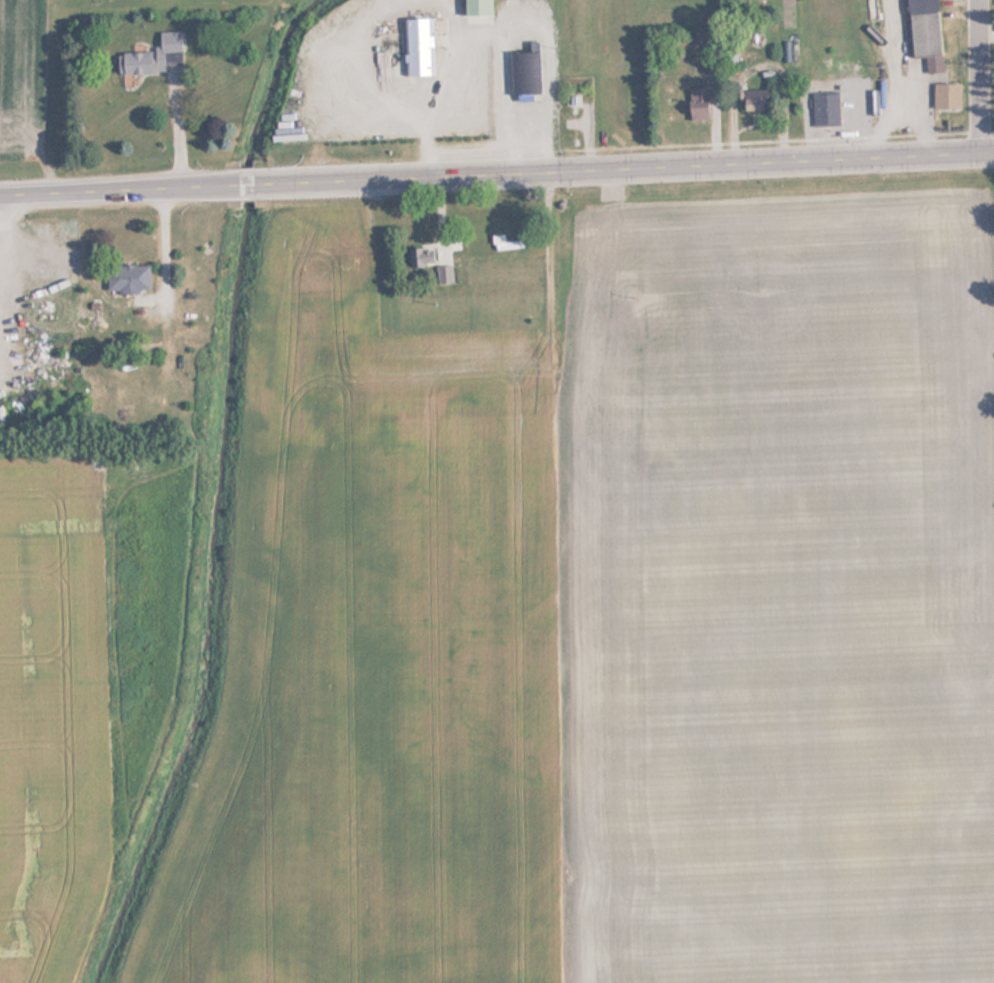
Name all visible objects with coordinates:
building: (475, 7)
building: (923, 32)
building: (418, 47)
building: (152, 56)
building: (525, 71)
road: (979, 75)
building: (945, 96)
building: (754, 99)
building: (697, 103)
building: (823, 110)
road: (775, 141)
road: (765, 163)
road: (268, 187)
building: (505, 244)
building: (427, 259)
building: (127, 278)
building: (415, 423)

